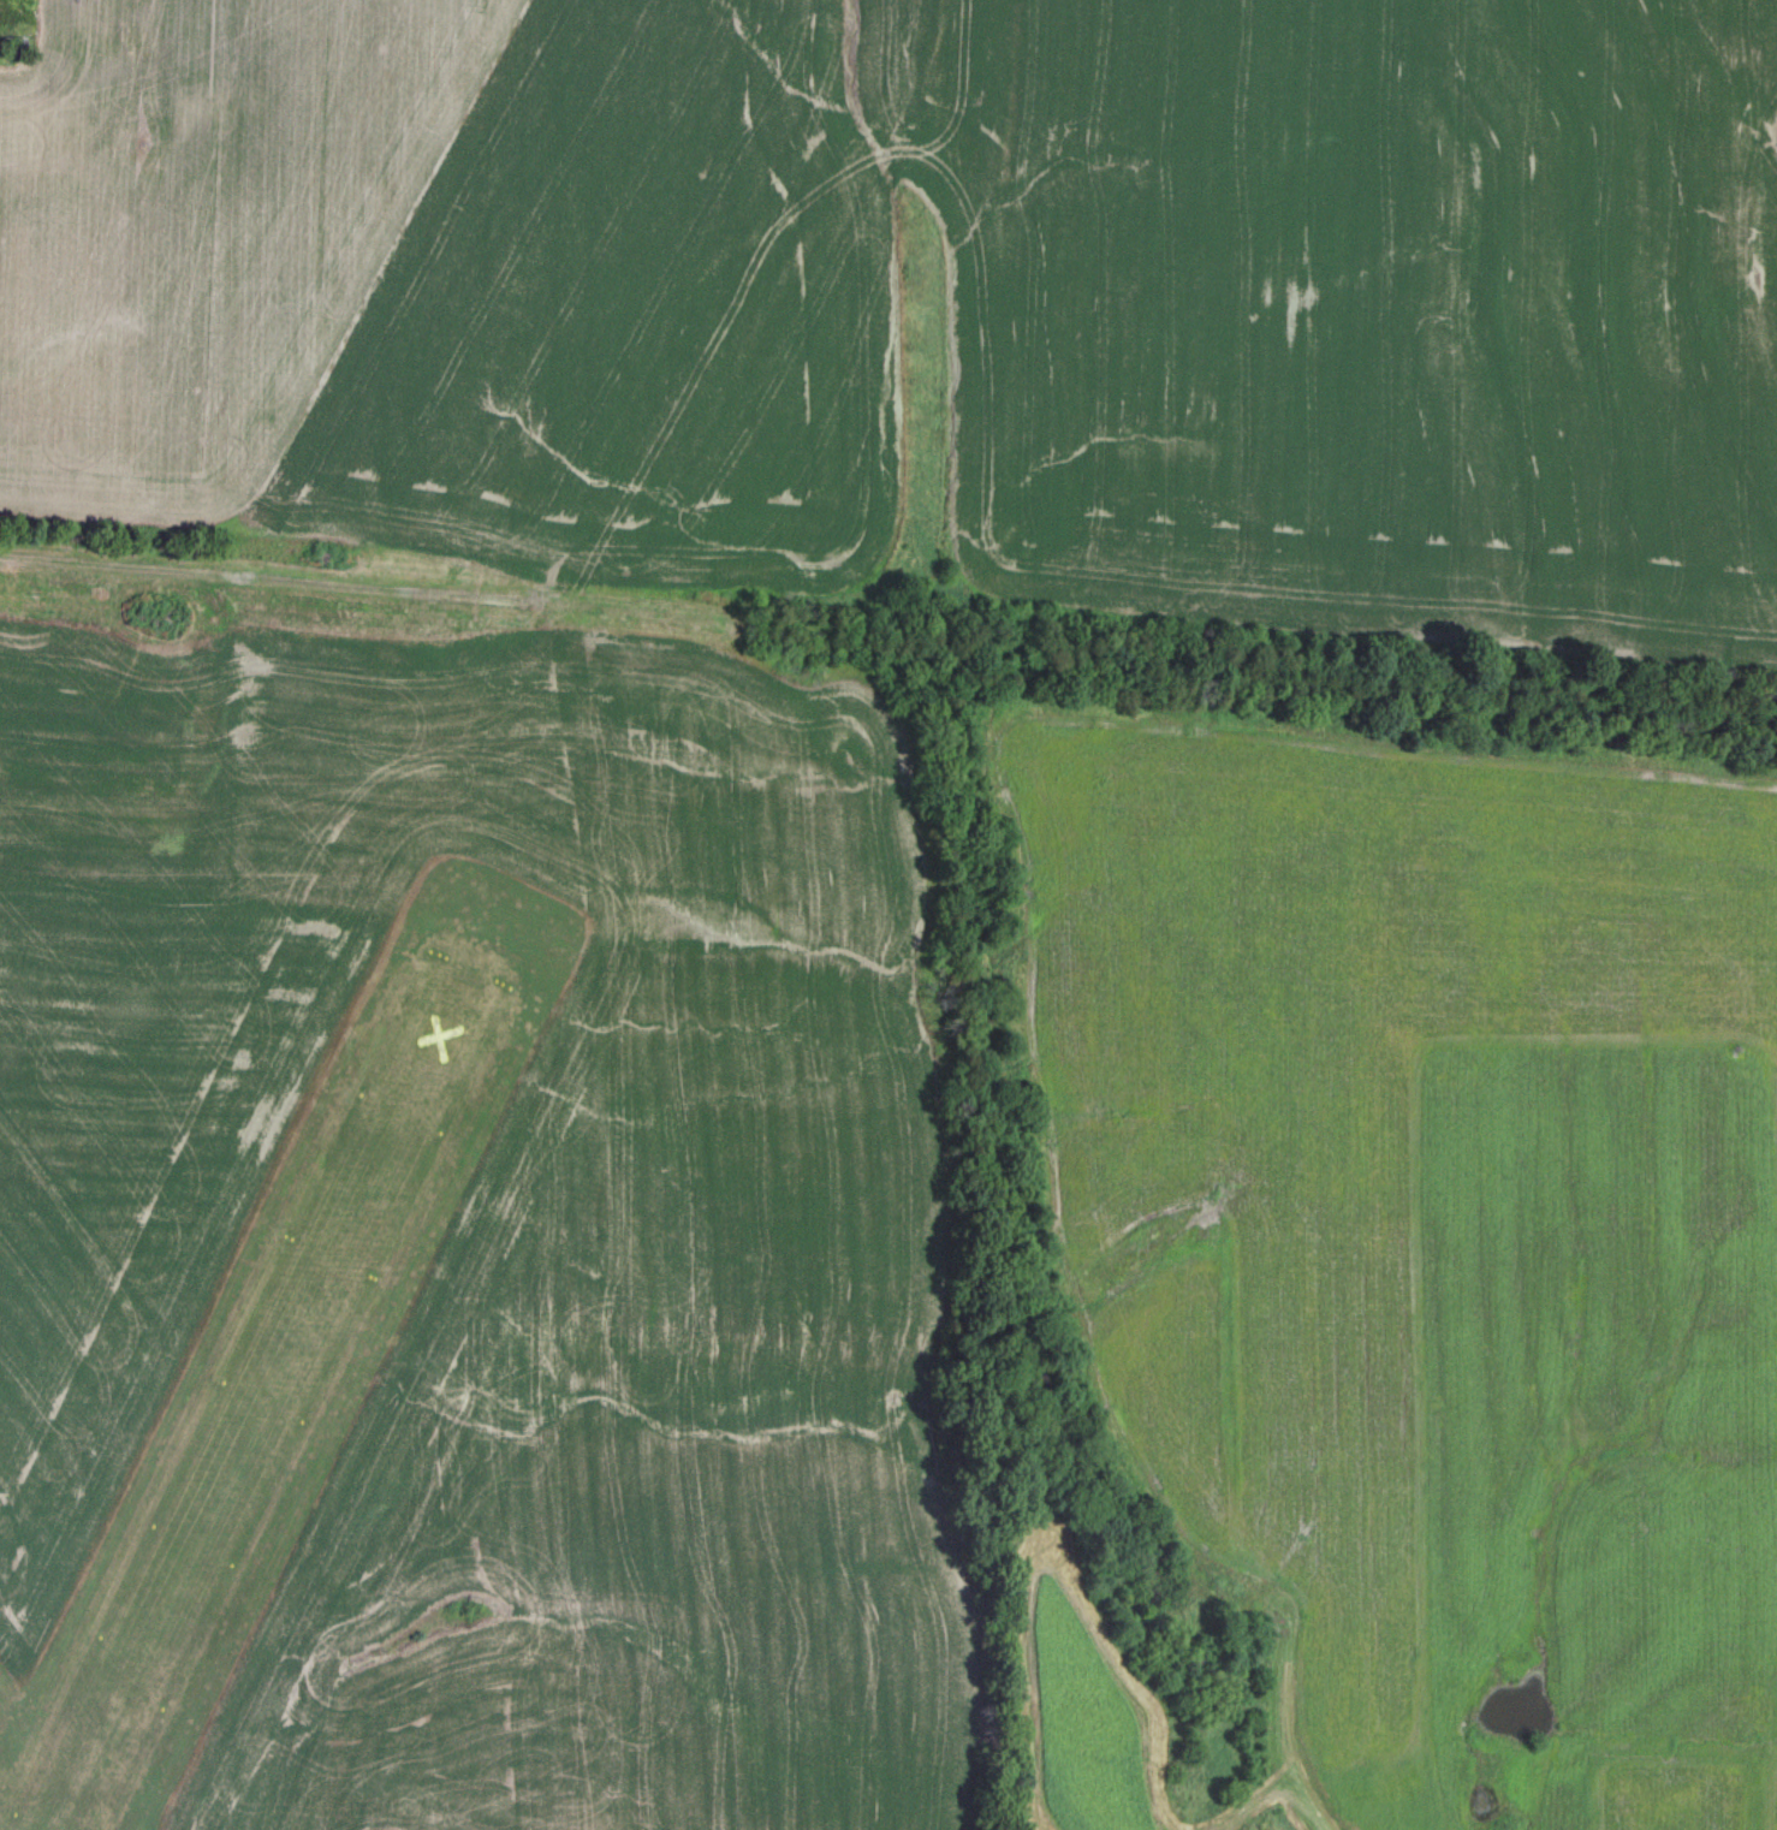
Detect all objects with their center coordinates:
building: (13, 46)
airport: (293, 1349)
airport runway: (265, 1401)

